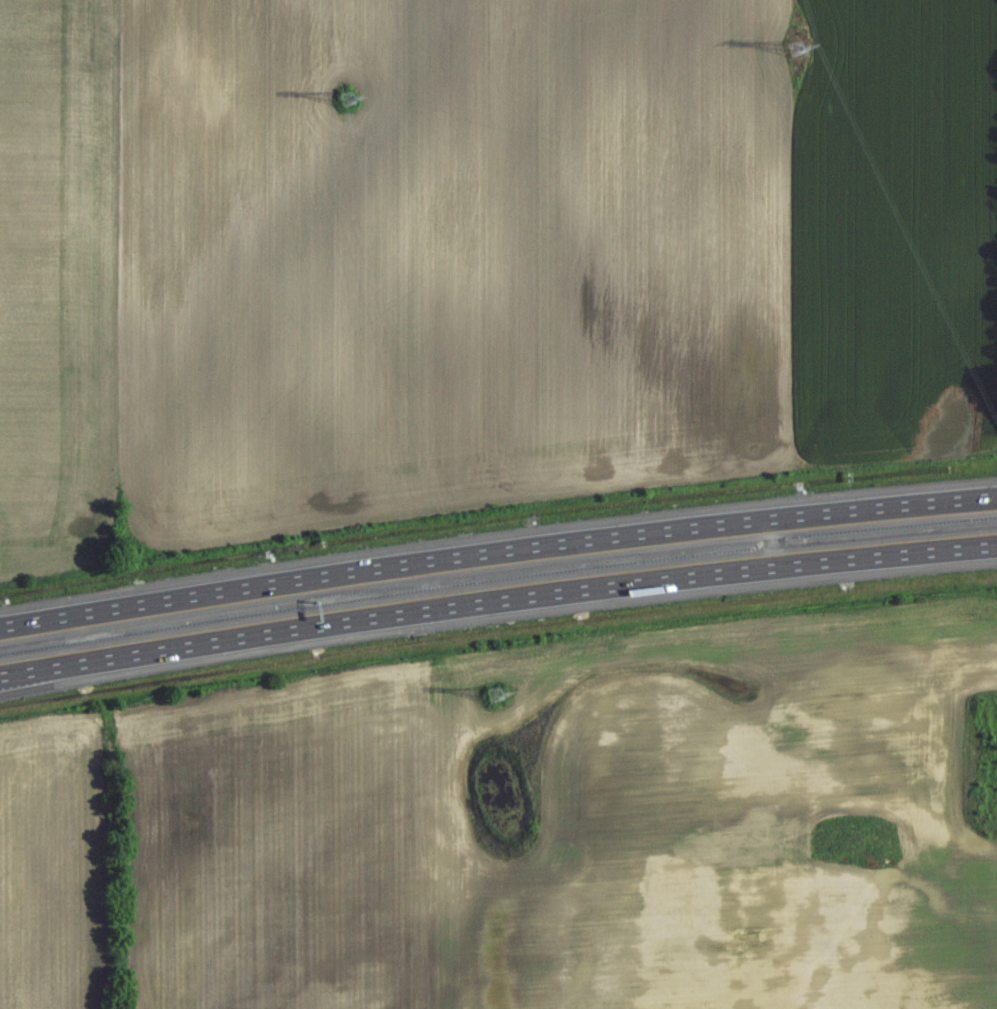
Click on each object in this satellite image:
power tower: (789, 52)
power tower: (347, 102)
road: (778, 542)
road: (496, 547)
road: (497, 604)
power tower: (491, 698)

